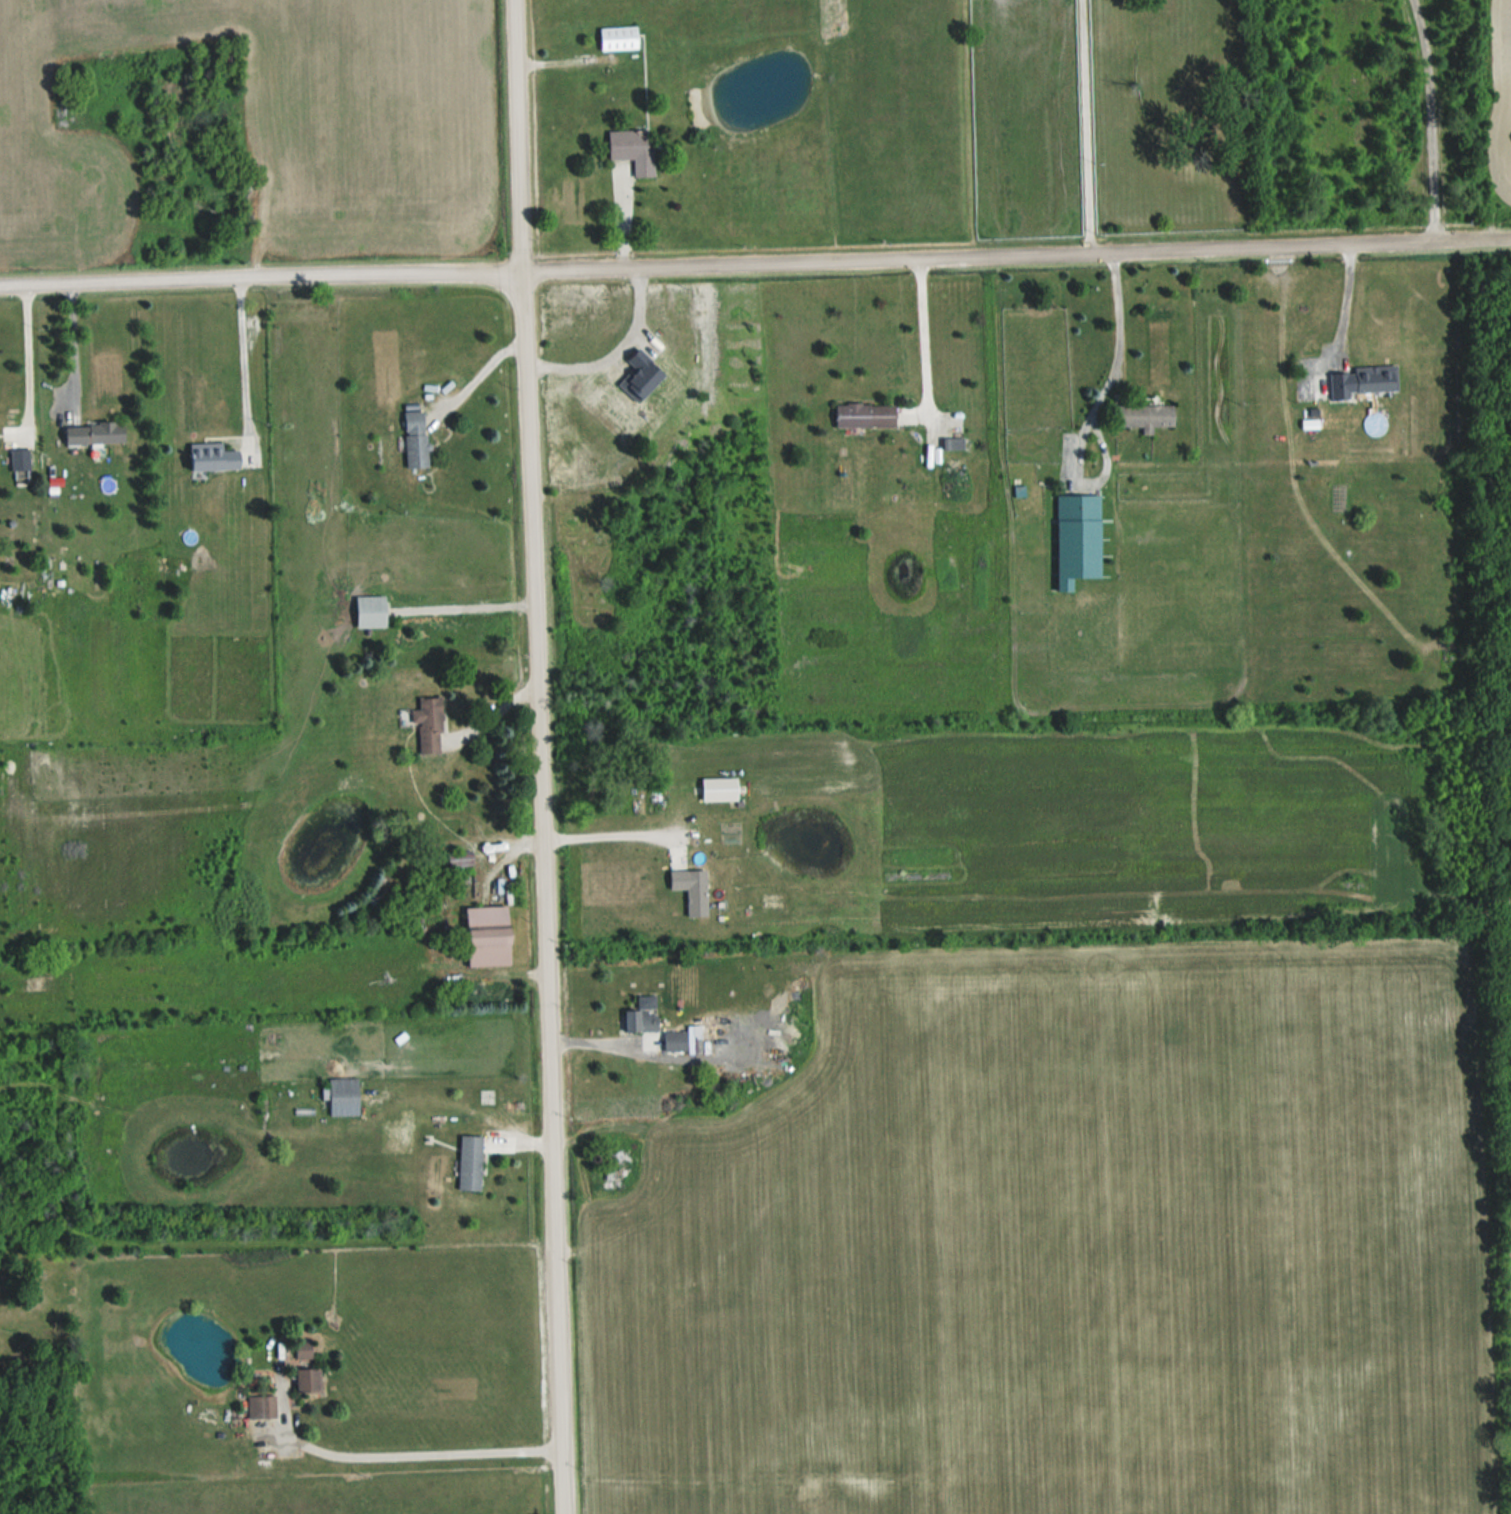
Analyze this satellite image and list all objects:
building: (618, 37)
road: (1430, 121)
crop: (267, 125)
road: (1085, 128)
building: (633, 149)
road: (755, 266)
road: (1345, 301)
road: (923, 337)
road: (73, 343)
road: (28, 349)
road: (243, 350)
road: (477, 369)
building: (1362, 380)
building: (865, 415)
road: (1089, 415)
building: (1144, 416)
building: (94, 434)
building: (415, 439)
building: (954, 443)
building: (212, 457)
building: (20, 459)
building: (1077, 539)
building: (947, 573)
building: (980, 575)
road: (462, 604)
building: (371, 611)
road: (491, 715)
building: (428, 726)
road: (535, 757)
building: (719, 790)
road: (607, 835)
building: (691, 889)
building: (487, 936)
building: (645, 1020)
building: (681, 1040)
road: (644, 1045)
building: (343, 1096)
building: (469, 1163)
building: (616, 1166)
building: (303, 1350)
building: (313, 1380)
building: (261, 1407)
road: (415, 1453)

